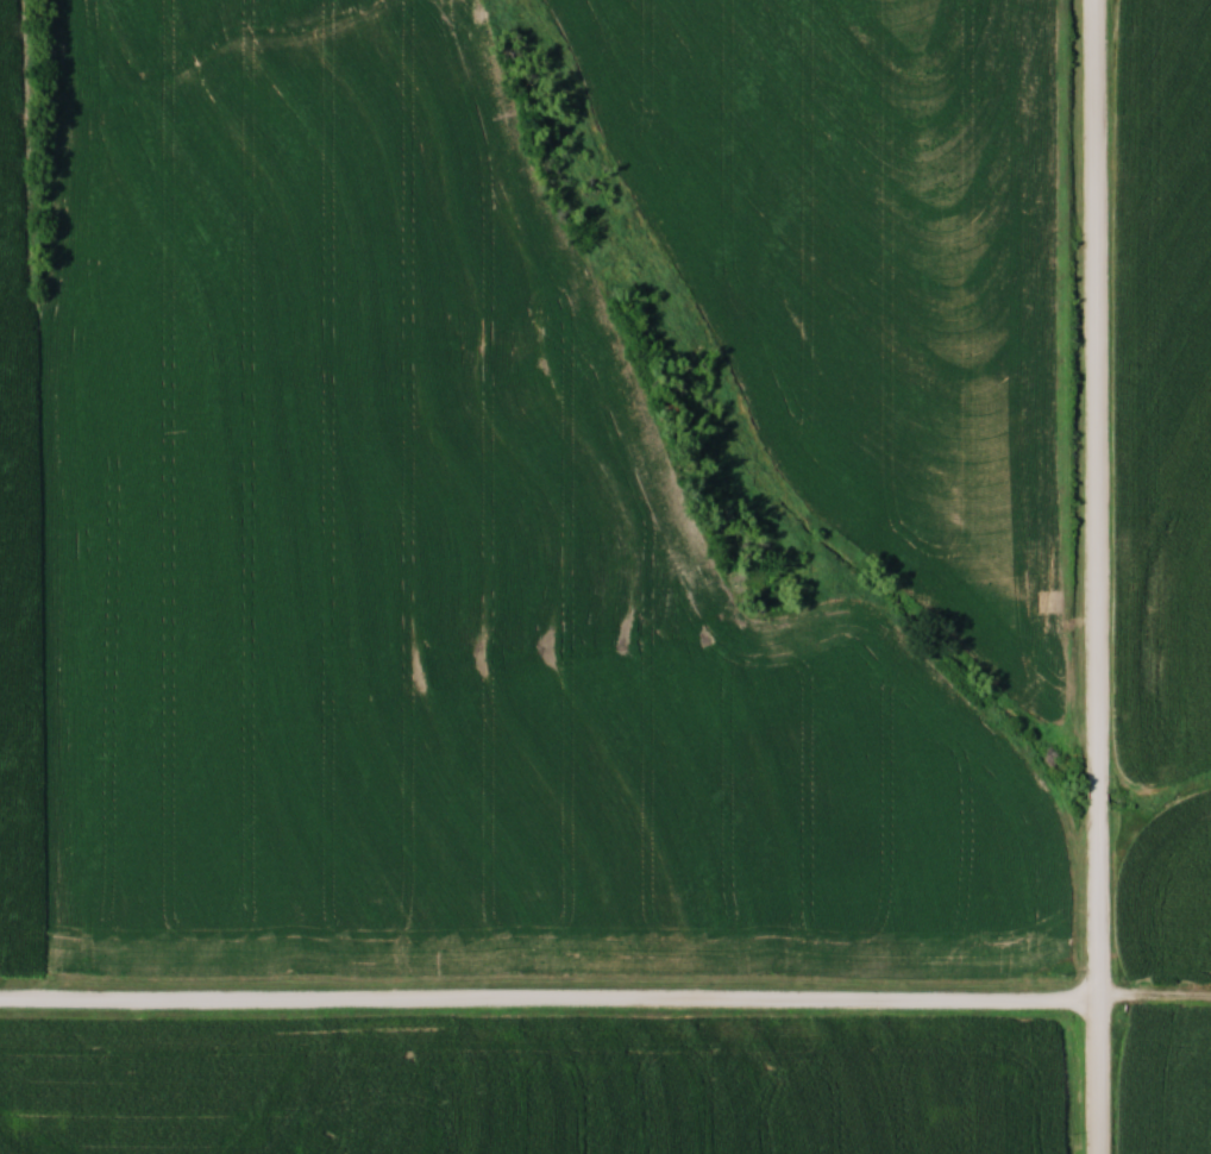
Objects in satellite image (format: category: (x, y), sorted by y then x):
road: (1097, 390)
road: (1098, 792)
road: (1097, 979)
road: (605, 999)

